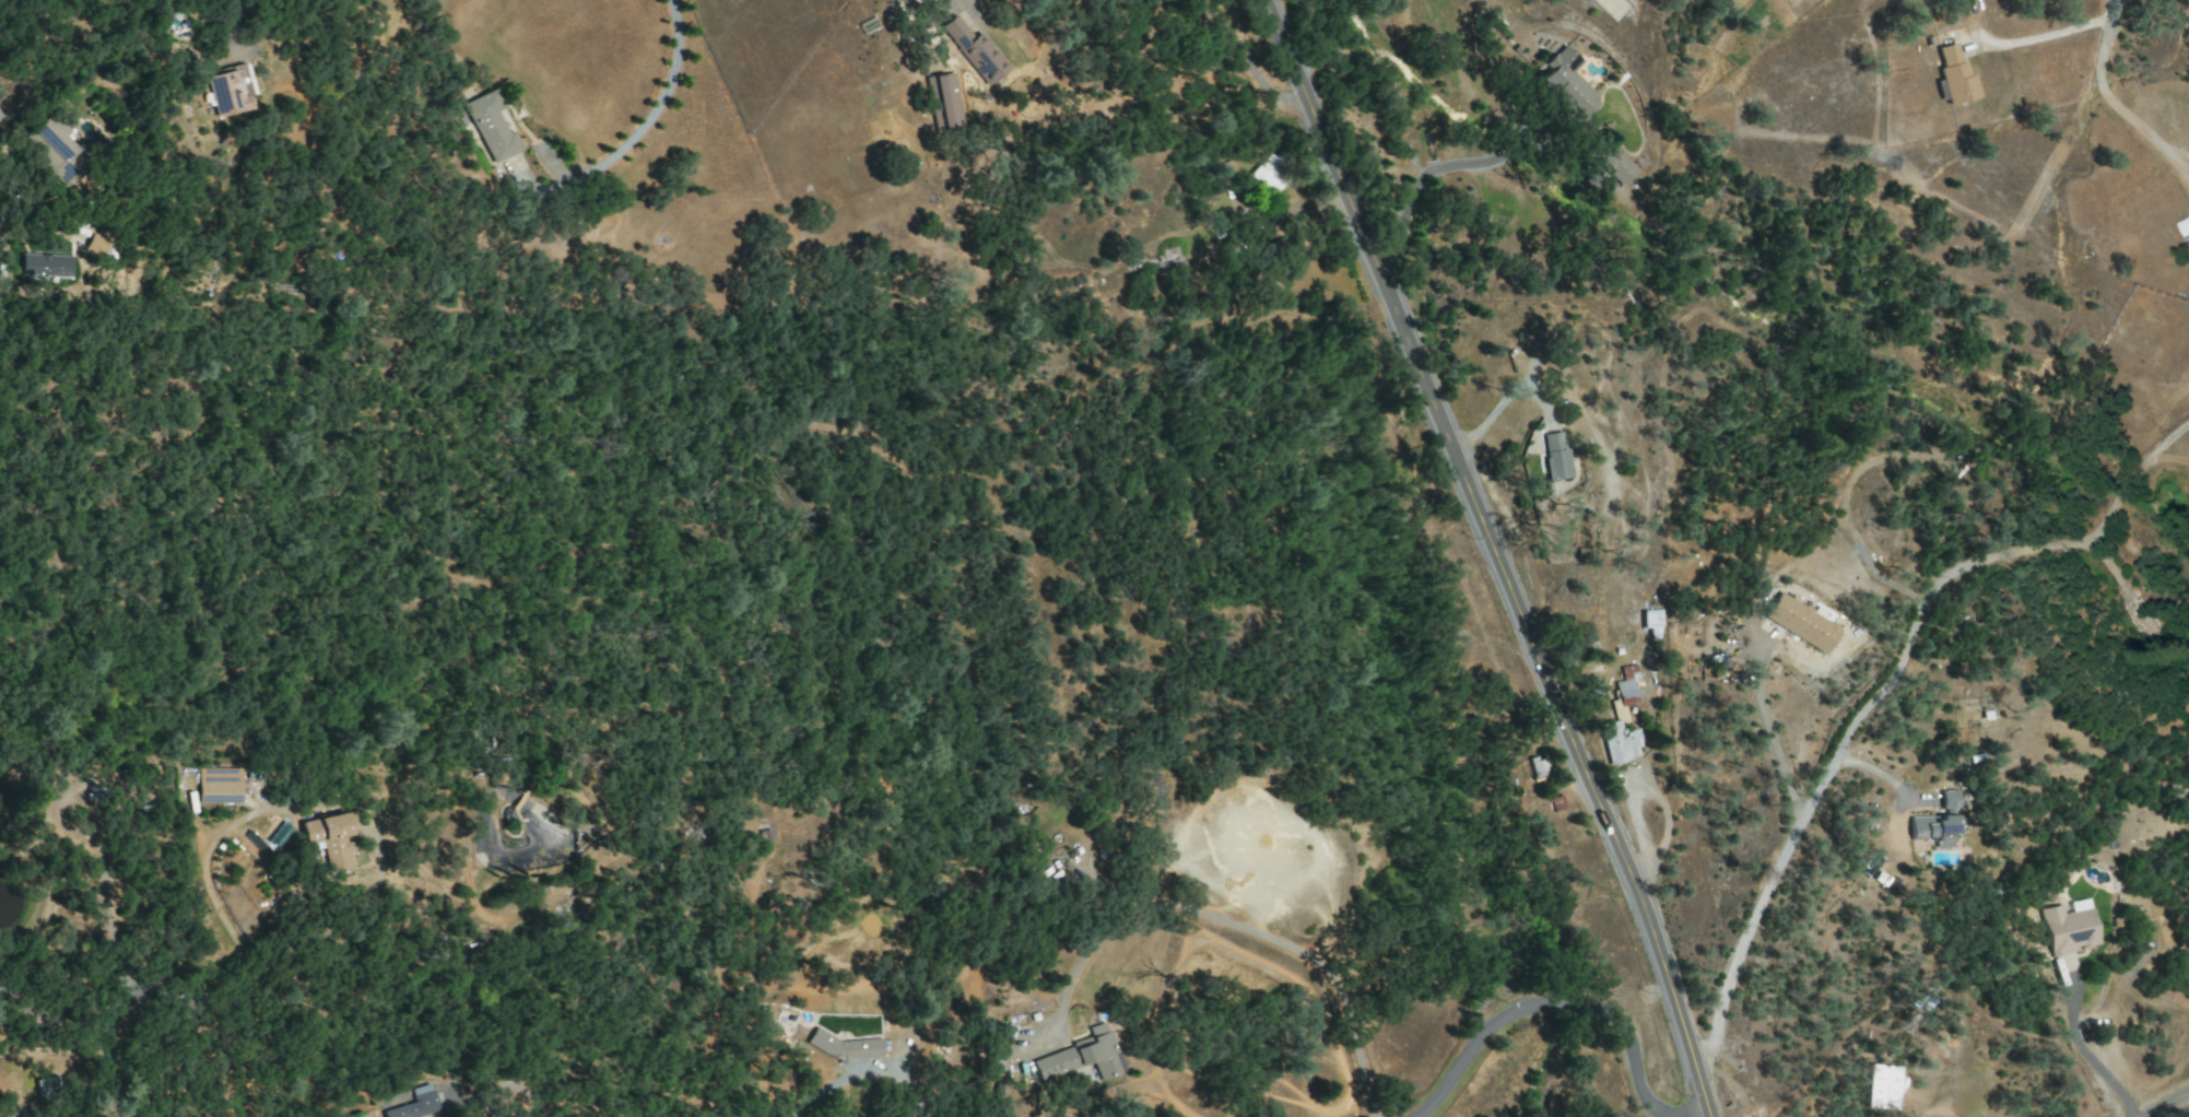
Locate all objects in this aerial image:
road: (237, 21)
building: (867, 26)
road: (2040, 37)
building: (974, 50)
building: (1954, 77)
building: (1566, 83)
building: (227, 90)
road: (2118, 98)
building: (942, 102)
building: (1, 115)
road: (643, 121)
building: (490, 127)
building: (55, 149)
building: (1610, 163)
road: (1434, 169)
building: (1270, 175)
road: (1306, 207)
building: (45, 266)
road: (1502, 399)
building: (1555, 456)
road: (2172, 457)
road: (1494, 556)
building: (2139, 615)
building: (1650, 619)
building: (1800, 623)
building: (1624, 686)
road: (1885, 687)
road: (1767, 736)
building: (1616, 743)
building: (1535, 766)
building: (219, 786)
road: (1657, 795)
building: (1555, 803)
building: (1938, 822)
building: (327, 838)
road: (207, 886)
road: (1236, 925)
building: (2068, 928)
road: (143, 1000)
road: (1547, 1009)
road: (58, 1019)
building: (844, 1047)
building: (1081, 1057)
road: (2087, 1058)
building: (1881, 1086)
road: (822, 1090)
road: (2167, 1103)
building: (414, 1104)

